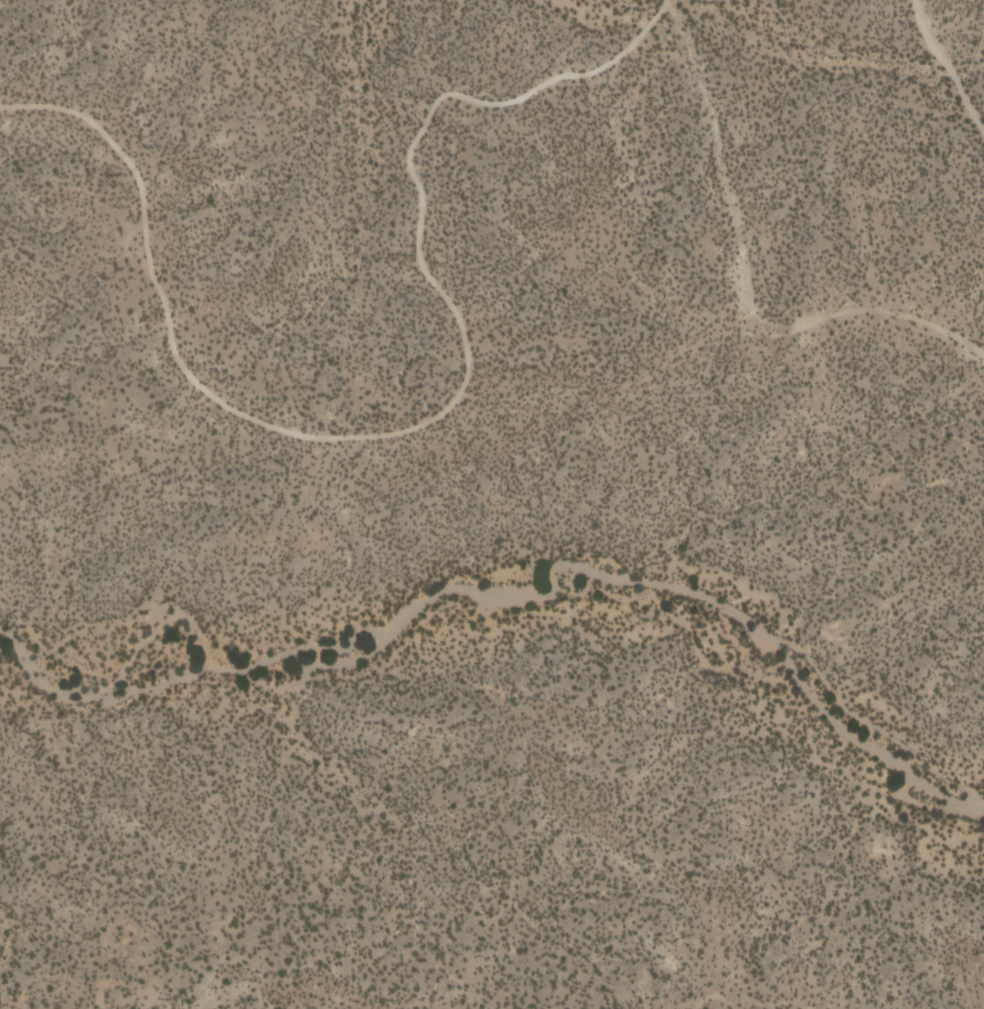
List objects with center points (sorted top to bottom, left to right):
road: (947, 68)
road: (425, 419)

